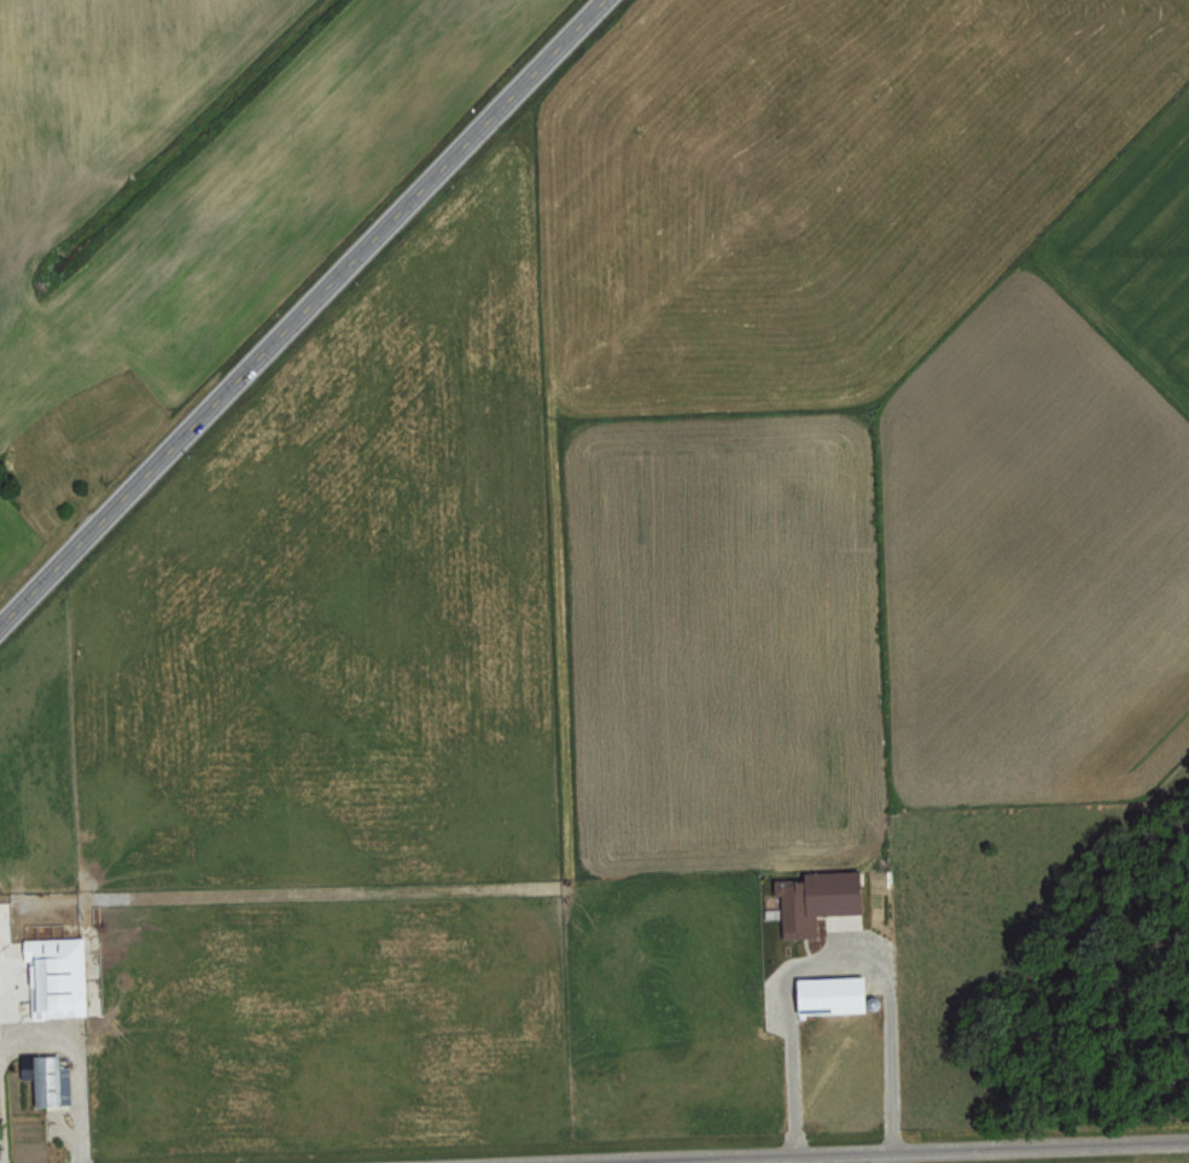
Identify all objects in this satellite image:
road: (305, 318)
building: (812, 899)
road: (826, 966)
building: (0, 976)
building: (62, 976)
building: (824, 994)
road: (78, 1062)
building: (52, 1079)
road: (914, 1152)
road: (0, 1156)
road: (740, 1161)

